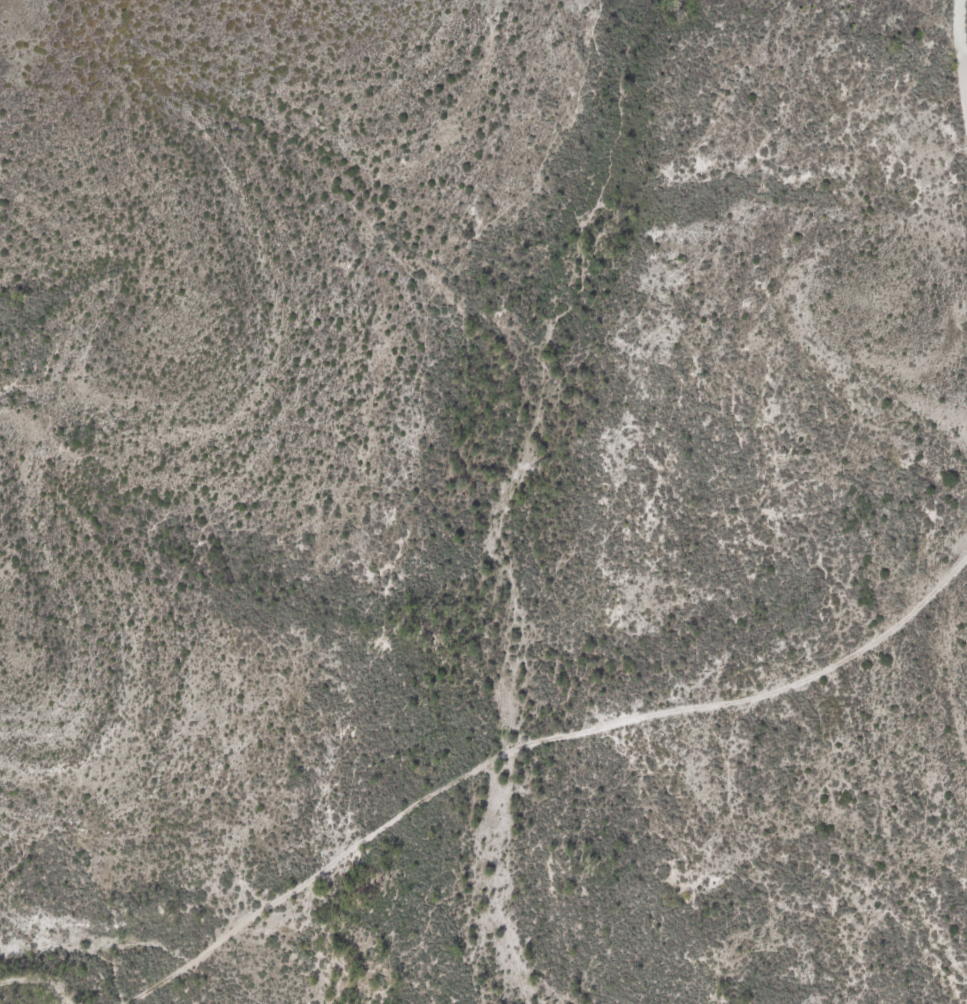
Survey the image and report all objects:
road: (528, 746)
road: (43, 984)

